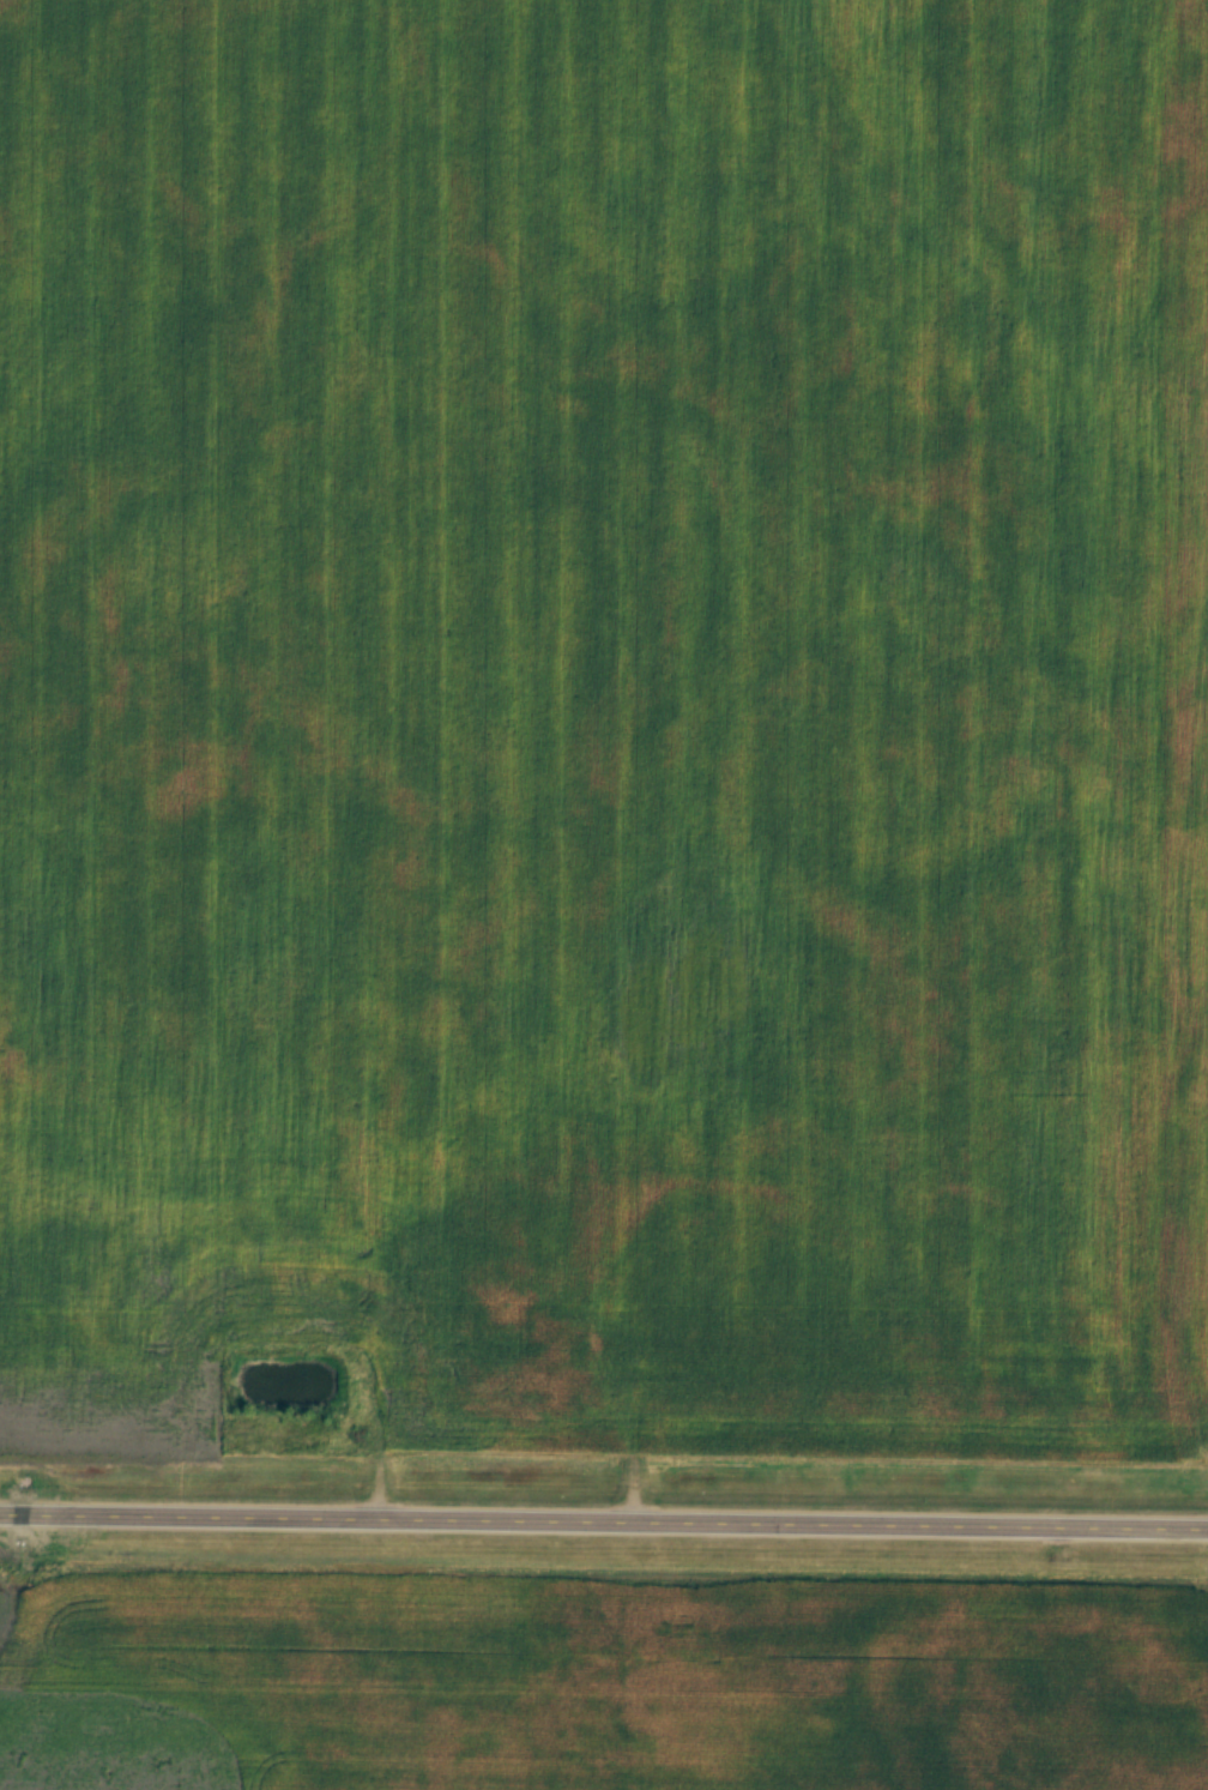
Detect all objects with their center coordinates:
road: (604, 1524)

